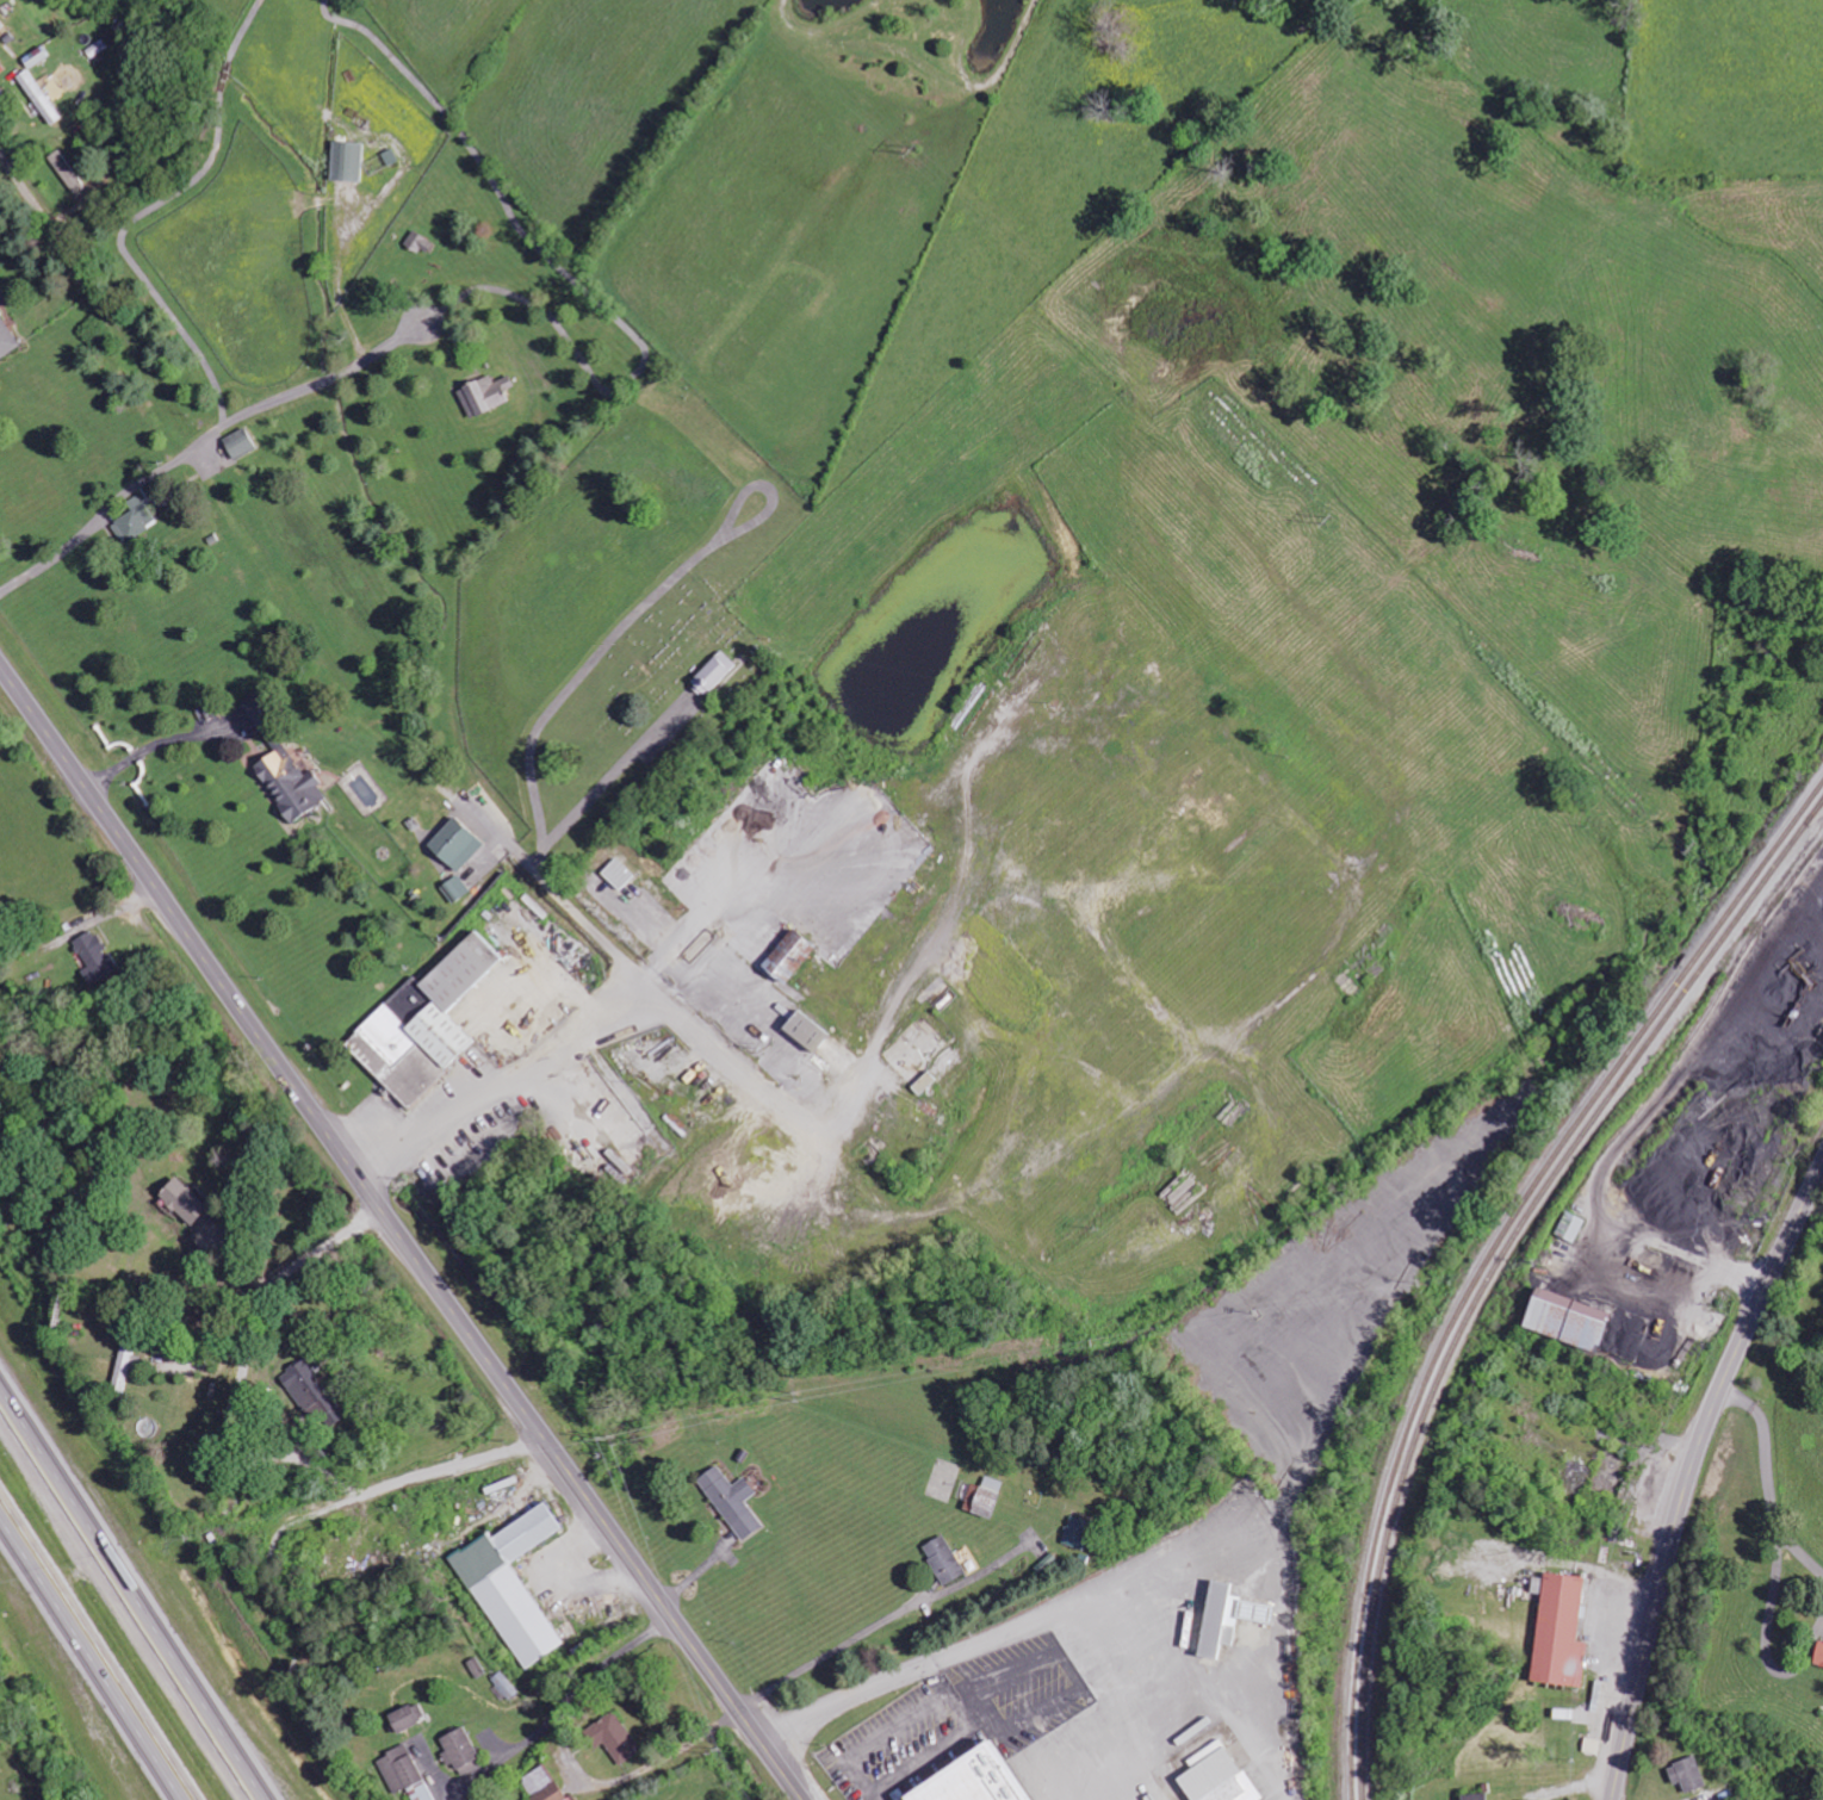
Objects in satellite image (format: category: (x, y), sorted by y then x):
building: (38, 57)
building: (2, 68)
building: (42, 97)
building: (347, 161)
building: (69, 172)
road: (25, 186)
building: (420, 242)
building: (485, 396)
road: (199, 440)
building: (240, 443)
building: (135, 521)
park: (666, 663)
building: (714, 674)
building: (291, 784)
building: (457, 843)
building: (455, 888)
railway: (1747, 948)
building: (789, 955)
building: (98, 958)
building: (427, 1022)
building: (806, 1030)
building: (924, 1082)
building: (185, 1200)
building: (1570, 1225)
road: (398, 1233)
railway: (1493, 1253)
railway: (1500, 1264)
building: (1567, 1318)
building: (124, 1367)
building: (311, 1391)
road: (1688, 1471)
road: (1769, 1477)
building: (987, 1496)
building: (733, 1501)
building: (1077, 1532)
building: (943, 1559)
building: (514, 1584)
road: (128, 1601)
building: (1228, 1616)
building: (1560, 1630)
road: (97, 1649)
building: (1819, 1655)
building: (408, 1717)
building: (614, 1737)
building: (461, 1751)
building: (405, 1773)
building: (1687, 1774)
building: (1219, 1775)
building: (976, 1777)
building: (544, 1786)
building: (1475, 1796)

